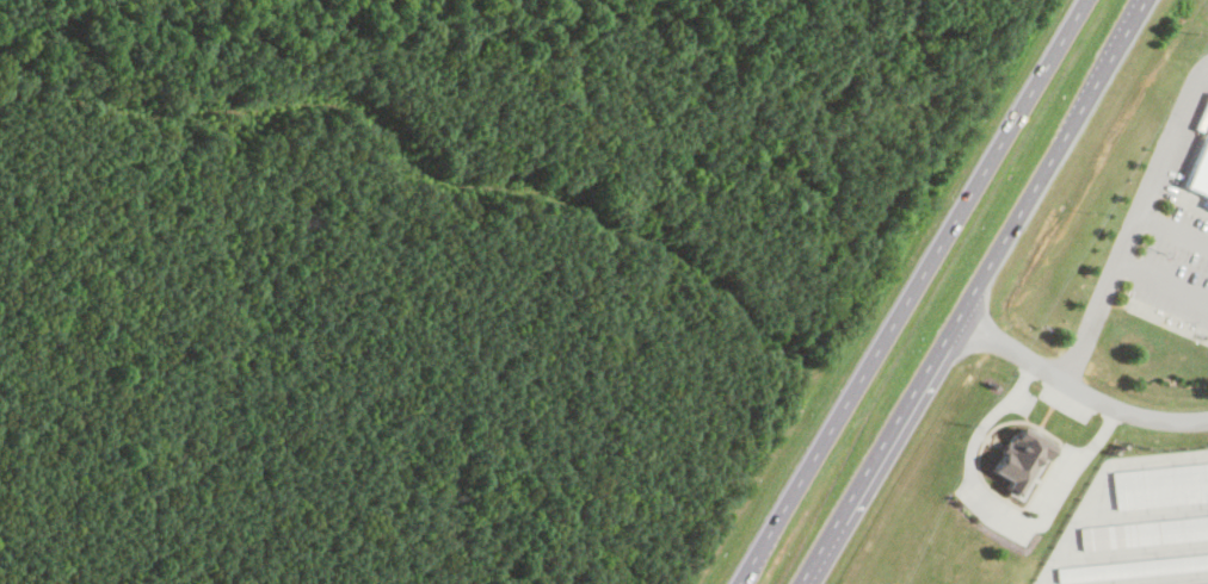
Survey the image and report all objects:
building: (1201, 172)
road: (1132, 217)
road: (1171, 226)
road: (1161, 277)
road: (972, 291)
road: (911, 292)
road: (1077, 386)
building: (1019, 461)
building: (1160, 484)
road: (999, 510)
building: (1144, 530)
building: (1133, 565)
building: (1201, 583)

